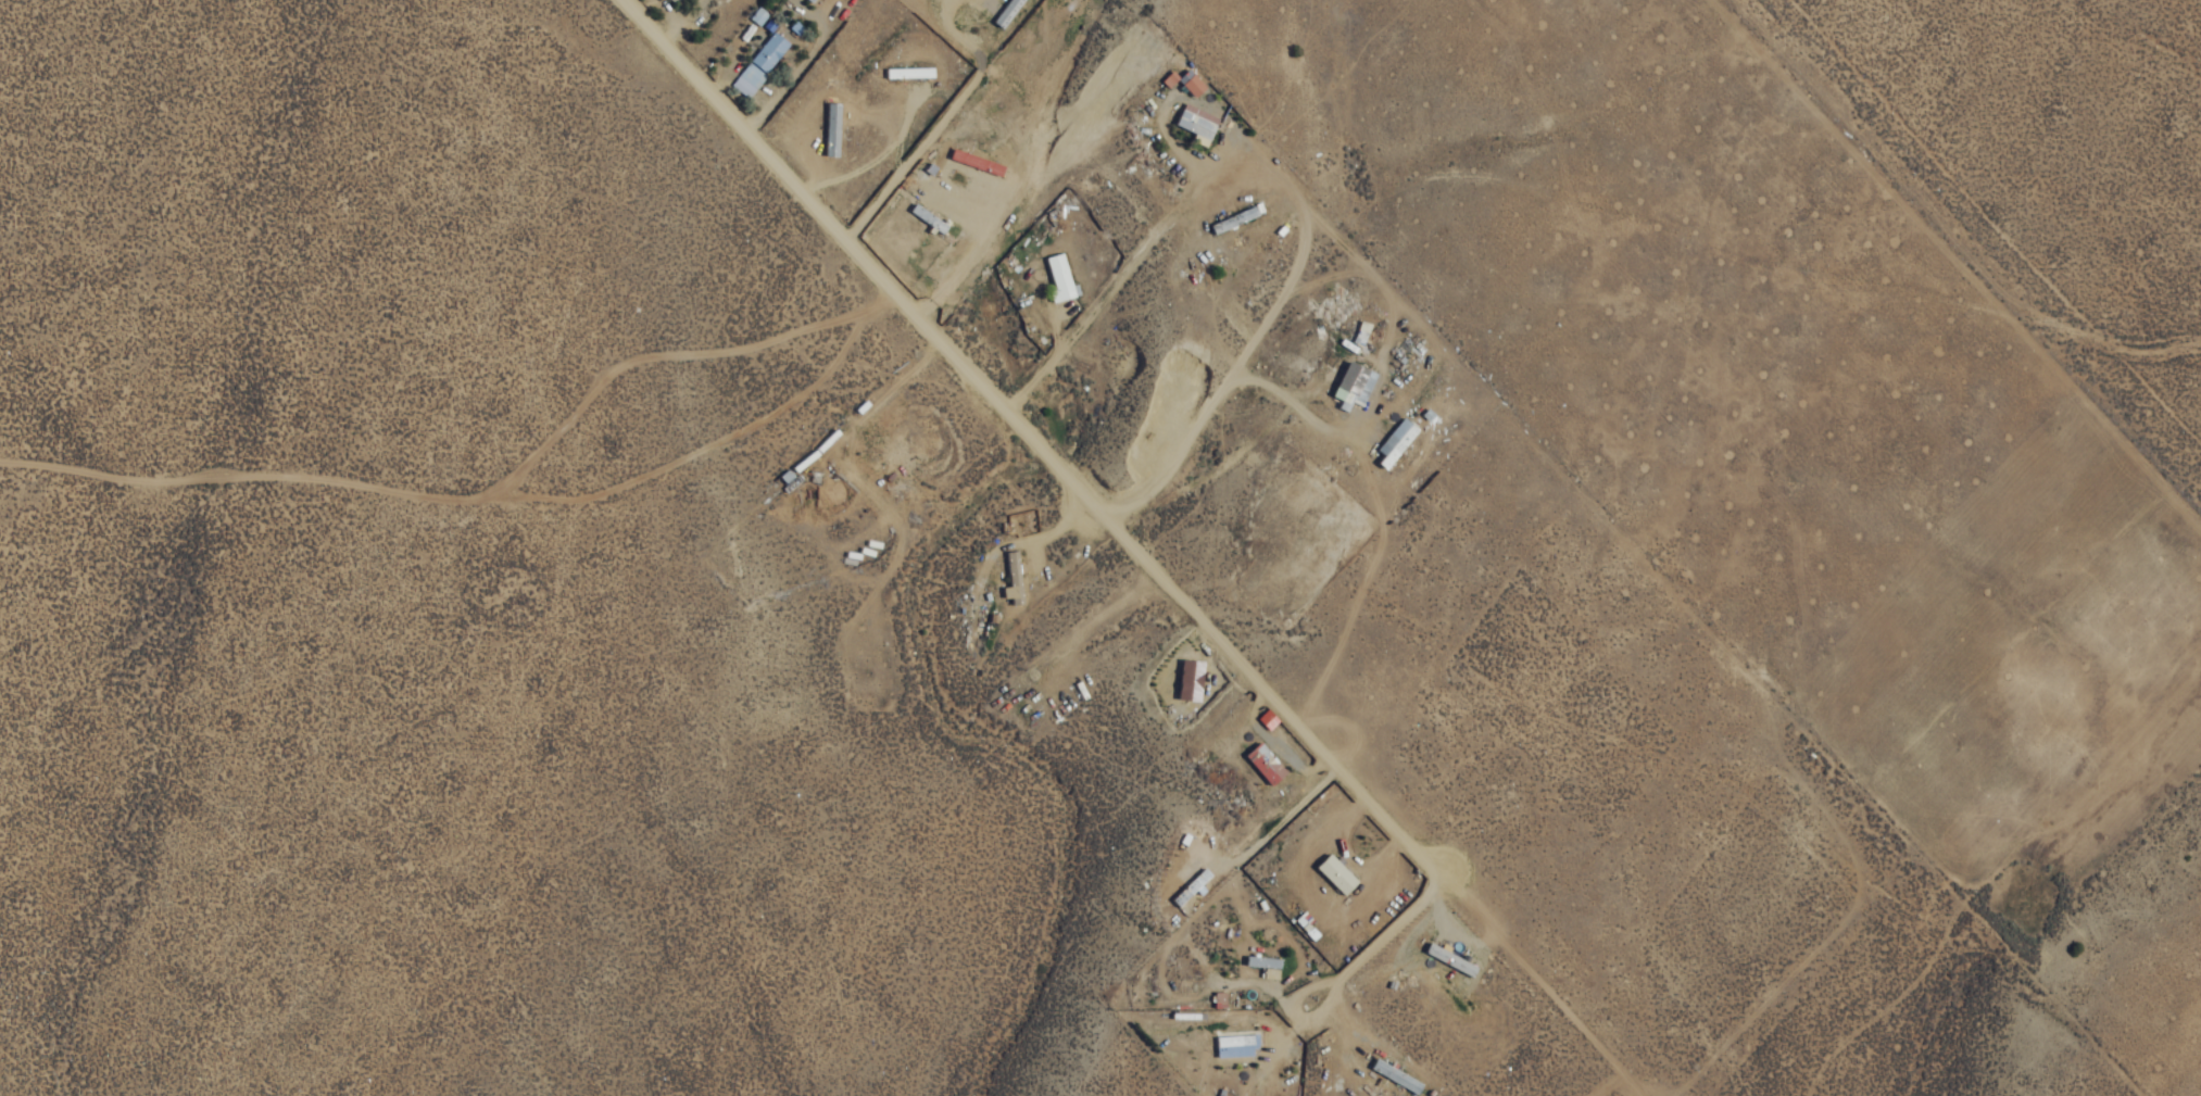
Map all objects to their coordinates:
building: (812, 0)
building: (1007, 12)
building: (757, 14)
building: (768, 51)
building: (908, 72)
building: (1170, 79)
building: (747, 80)
building: (1192, 83)
building: (1197, 121)
building: (832, 129)
building: (978, 162)
road: (864, 262)
building: (1059, 277)
building: (1349, 385)
building: (1009, 578)
building: (1186, 680)
building: (1260, 764)
building: (1332, 873)
building: (1446, 959)
building: (1260, 965)
building: (1231, 1046)
building: (1392, 1075)

